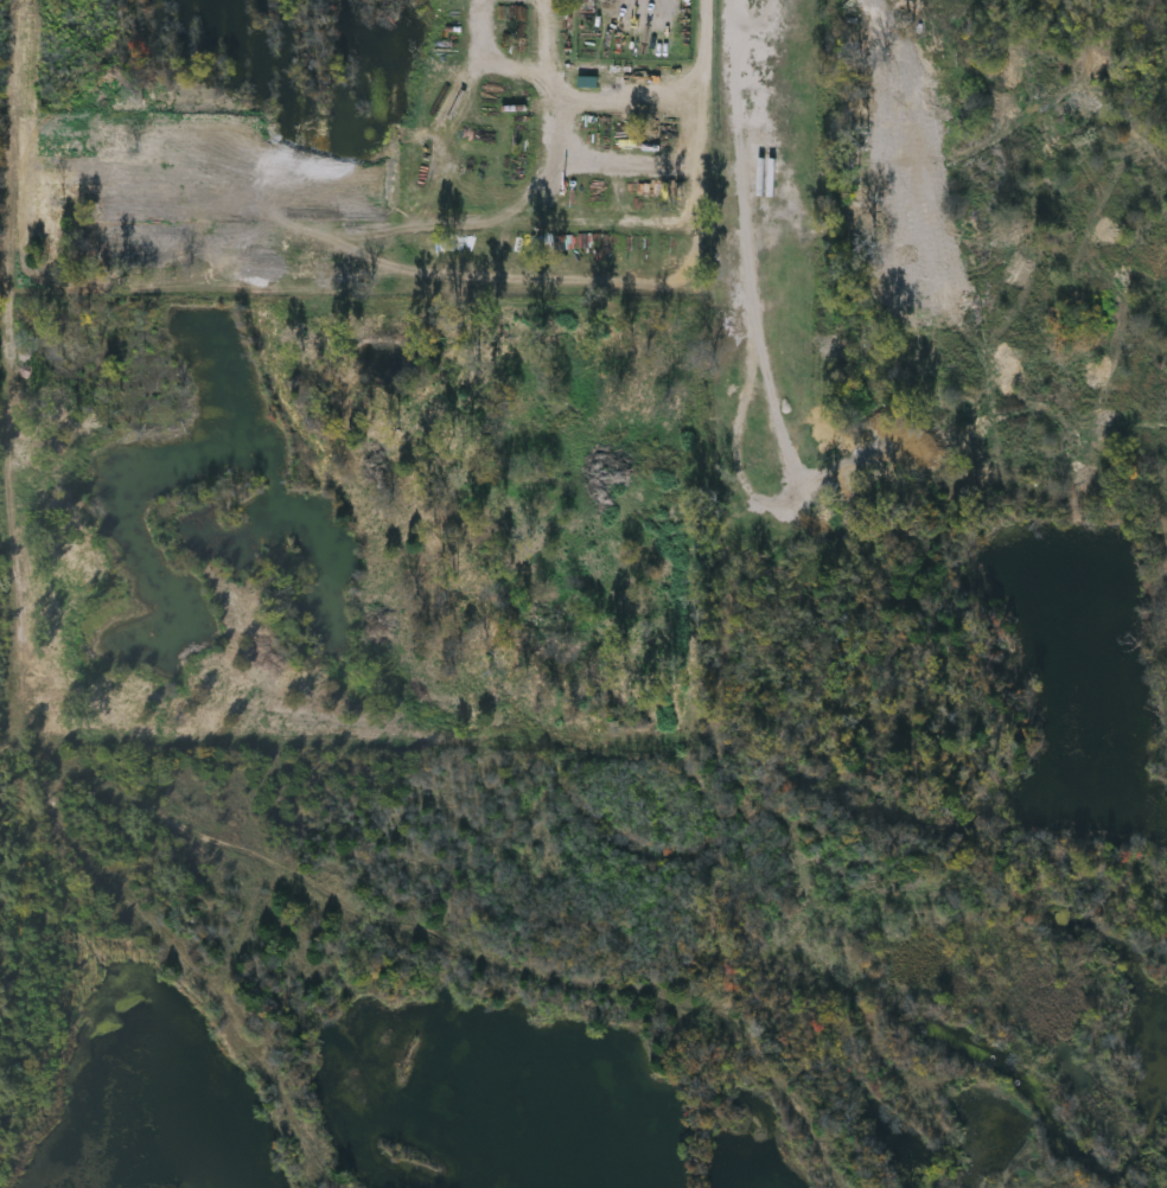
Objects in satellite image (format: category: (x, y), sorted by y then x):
road: (704, 72)

